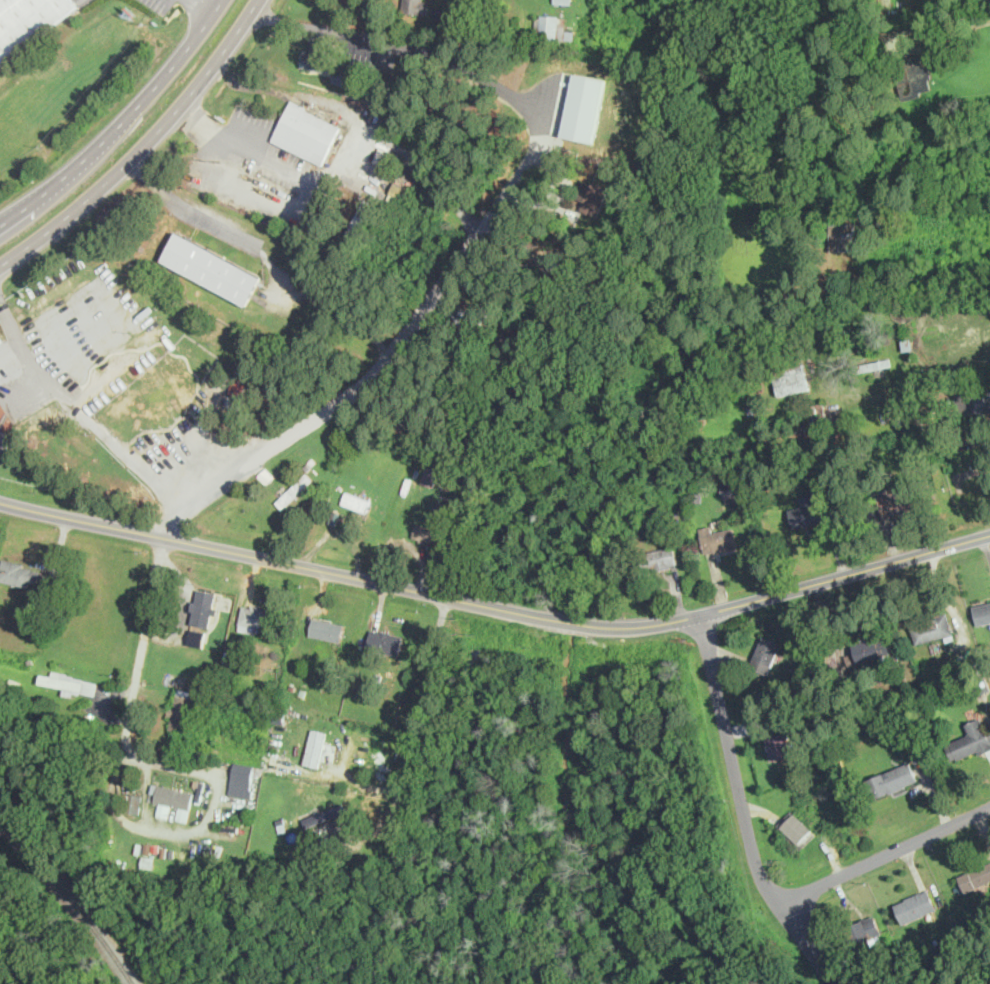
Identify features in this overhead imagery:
road: (207, 4)
building: (415, 6)
road: (976, 21)
building: (28, 22)
road: (317, 25)
building: (552, 28)
road: (893, 44)
building: (315, 54)
building: (914, 75)
building: (346, 76)
road: (480, 76)
road: (285, 91)
building: (584, 107)
road: (121, 123)
building: (306, 132)
road: (397, 143)
road: (143, 145)
building: (378, 153)
building: (594, 197)
road: (288, 209)
road: (212, 211)
building: (360, 225)
building: (844, 237)
building: (214, 268)
building: (919, 313)
building: (862, 340)
building: (907, 344)
building: (877, 365)
road: (380, 373)
building: (791, 379)
building: (237, 387)
building: (978, 401)
building: (233, 402)
road: (82, 412)
building: (902, 420)
building: (5, 440)
building: (430, 474)
building: (266, 475)
building: (294, 489)
building: (731, 489)
building: (356, 501)
building: (898, 502)
building: (809, 513)
building: (426, 532)
building: (717, 539)
building: (662, 558)
road: (277, 560)
building: (19, 572)
road: (789, 590)
building: (204, 607)
building: (982, 613)
building: (257, 617)
road: (570, 621)
building: (932, 628)
building: (327, 629)
building: (196, 636)
building: (386, 641)
building: (871, 649)
building: (765, 653)
building: (70, 682)
road: (422, 692)
building: (180, 709)
road: (124, 740)
building: (970, 741)
building: (777, 745)
building: (315, 746)
road: (199, 771)
building: (893, 778)
building: (242, 779)
road: (347, 781)
road: (146, 794)
building: (173, 800)
building: (134, 802)
road: (743, 809)
building: (324, 814)
building: (796, 828)
road: (883, 855)
building: (975, 876)
railway: (72, 897)
building: (915, 905)
building: (865, 930)

